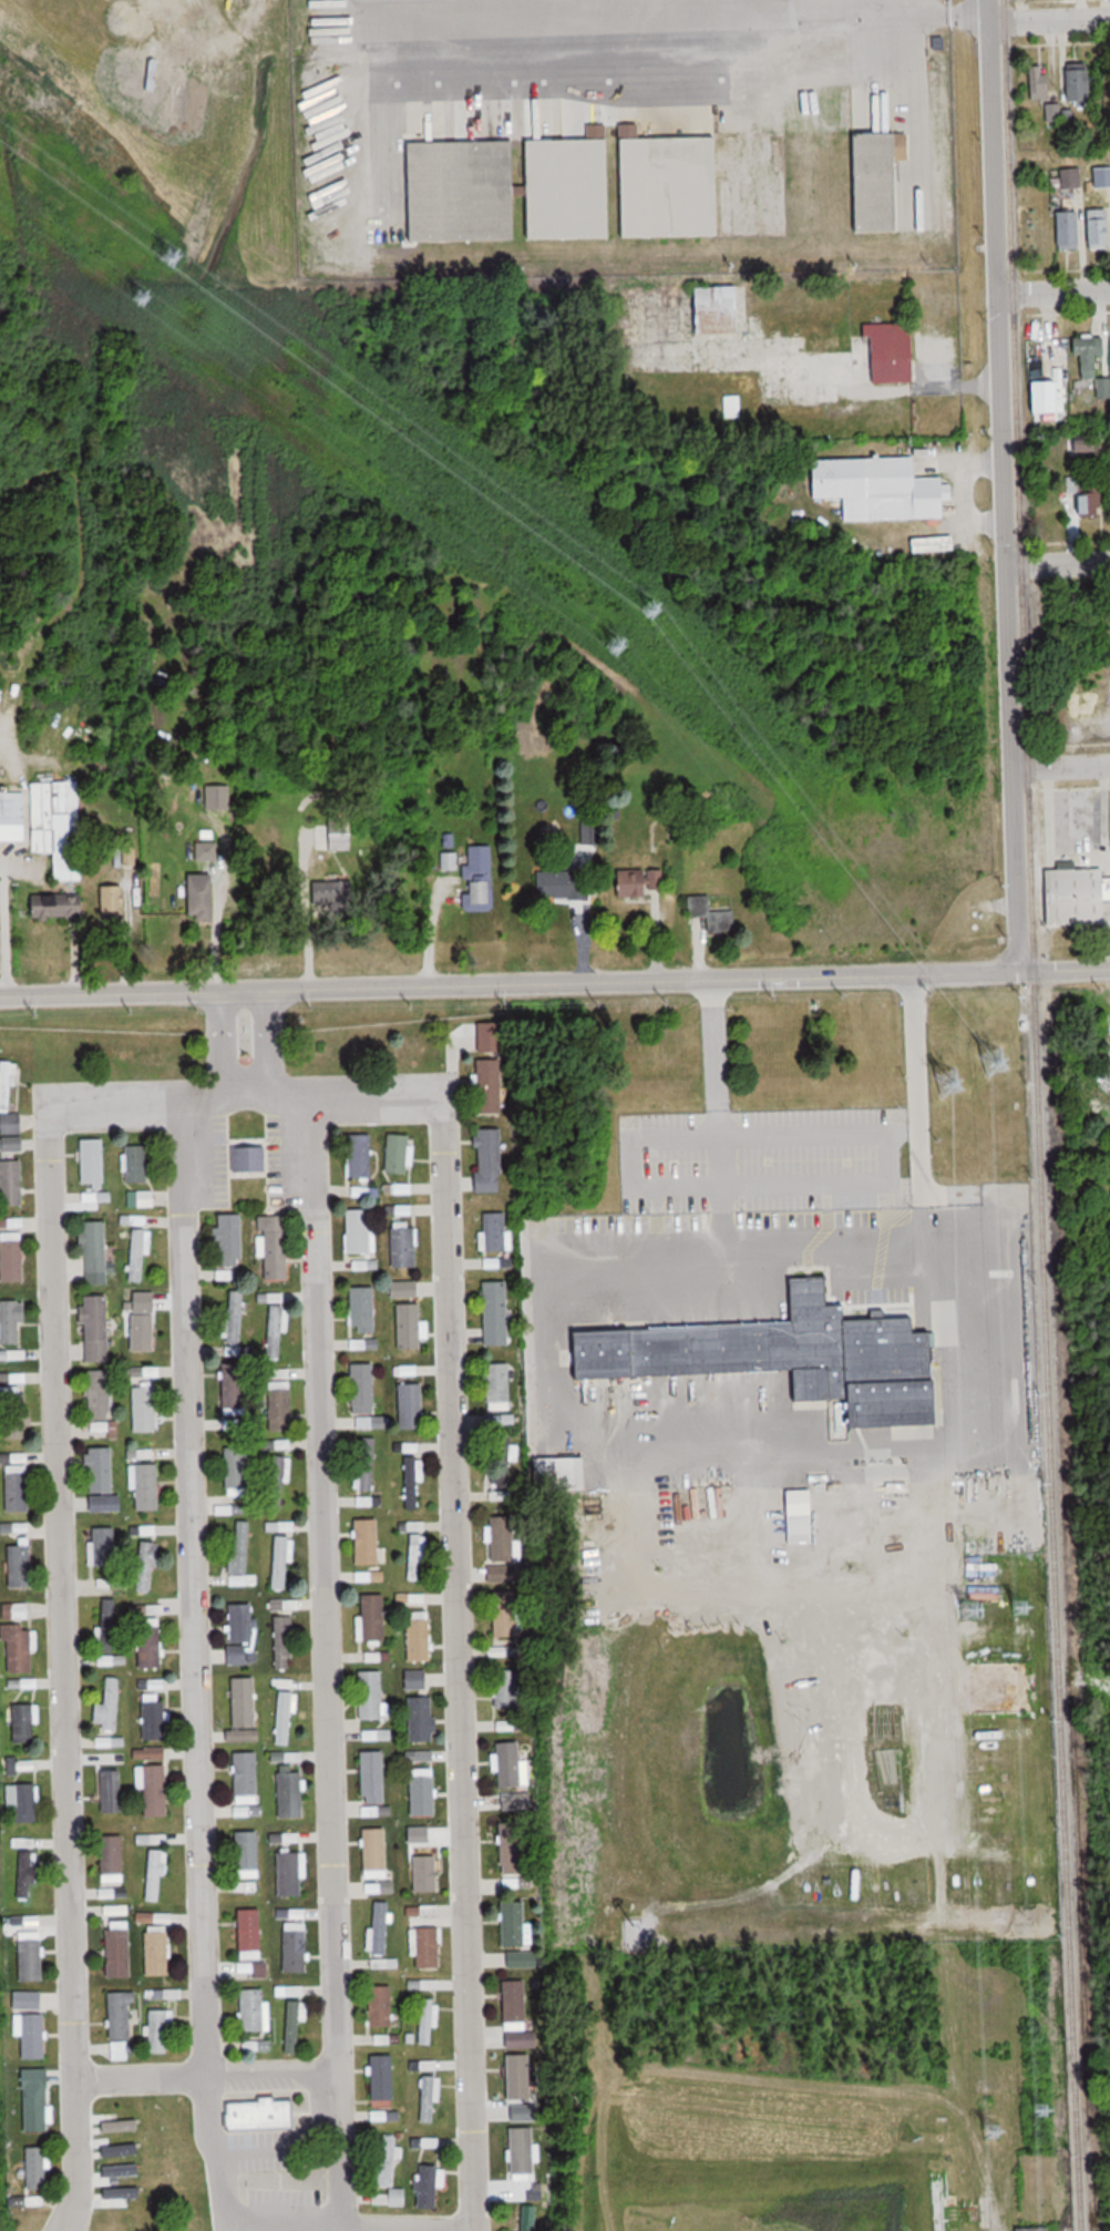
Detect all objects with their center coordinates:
road: (370, 9)
road: (854, 11)
road: (1049, 19)
road: (578, 28)
building: (1040, 83)
building: (1078, 86)
road: (909, 126)
building: (880, 182)
building: (669, 186)
building: (508, 190)
building: (1100, 228)
building: (1068, 229)
power tower: (175, 260)
railway: (1013, 283)
road: (1052, 291)
power tower: (142, 294)
building: (720, 309)
building: (892, 352)
building: (1090, 355)
building: (1103, 387)
building: (1050, 393)
building: (732, 406)
building: (876, 485)
road: (1004, 485)
building: (1086, 495)
road: (1058, 564)
power tower: (656, 612)
power tower: (619, 643)
road: (1061, 769)
building: (13, 816)
building: (56, 825)
building: (341, 832)
building: (449, 860)
building: (481, 874)
building: (637, 881)
building: (567, 884)
building: (330, 894)
building: (203, 896)
building: (1077, 896)
building: (114, 902)
building: (58, 905)
building: (711, 913)
road: (555, 983)
building: (487, 1043)
road: (709, 1046)
power tower: (998, 1058)
road: (913, 1060)
power tower: (950, 1077)
building: (490, 1086)
building: (10, 1098)
road: (796, 1136)
building: (12, 1144)
building: (398, 1152)
building: (360, 1154)
building: (248, 1156)
building: (93, 1159)
building: (490, 1160)
building: (137, 1161)
building: (12, 1183)
road: (796, 1185)
building: (141, 1198)
building: (495, 1229)
building: (358, 1230)
building: (229, 1237)
building: (275, 1244)
building: (405, 1245)
building: (95, 1246)
building: (140, 1255)
building: (12, 1257)
road: (843, 1260)
building: (404, 1289)
building: (363, 1306)
building: (496, 1311)
building: (236, 1316)
building: (11, 1320)
building: (410, 1322)
building: (97, 1327)
building: (276, 1330)
building: (140, 1331)
building: (793, 1358)
building: (405, 1371)
building: (362, 1383)
building: (500, 1383)
building: (234, 1386)
building: (100, 1392)
railway: (1050, 1399)
building: (410, 1404)
building: (144, 1406)
building: (278, 1406)
building: (16, 1412)
building: (370, 1423)
building: (411, 1449)
building: (369, 1463)
building: (237, 1467)
building: (103, 1471)
building: (503, 1472)
building: (559, 1474)
building: (278, 1478)
building: (412, 1482)
building: (18, 1484)
building: (146, 1485)
building: (801, 1517)
building: (279, 1526)
road: (451, 1529)
building: (148, 1531)
road: (58, 1536)
building: (503, 1537)
building: (368, 1539)
building: (104, 1544)
building: (241, 1548)
building: (415, 1556)
building: (280, 1559)
building: (21, 1566)
building: (146, 1567)
building: (503, 1574)
road: (194, 1588)
power tower: (1026, 1603)
building: (289, 1605)
power tower: (977, 1607)
building: (155, 1609)
building: (16, 1611)
building: (504, 1611)
building: (371, 1619)
building: (240, 1621)
building: (107, 1623)
building: (421, 1633)
building: (284, 1641)
building: (151, 1644)
building: (20, 1648)
road: (323, 1660)
building: (417, 1679)
building: (508, 1688)
building: (371, 1693)
building: (240, 1699)
building: (110, 1701)
building: (285, 1715)
building: (419, 1716)
building: (153, 1717)
building: (22, 1722)
building: (510, 1725)
building: (243, 1736)
building: (22, 1764)
building: (507, 1764)
building: (247, 1777)
building: (374, 1777)
building: (155, 1789)
building: (423, 1792)
building: (290, 1793)
building: (25, 1800)
building: (516, 1801)
building: (150, 1839)
building: (513, 1844)
building: (374, 1850)
building: (247, 1854)
building: (110, 1859)
building: (292, 1871)
building: (156, 1872)
building: (426, 1873)
building: (25, 1874)
building: (424, 1911)
building: (513, 1921)
building: (381, 1927)
building: (249, 1930)
building: (635, 1937)
building: (297, 1945)
building: (430, 1948)
building: (161, 1951)
building: (117, 1952)
building: (31, 1955)
building: (522, 1958)
building: (384, 1962)
building: (255, 1968)
building: (428, 1984)
building: (29, 1999)
building: (381, 2003)
building: (515, 2003)
building: (254, 2007)
building: (122, 2013)
building: (428, 2019)
building: (294, 2026)
building: (160, 2030)
building: (34, 2036)
building: (431, 2065)
building: (518, 2073)
road: (205, 2075)
building: (382, 2077)
building: (429, 2096)
building: (35, 2099)
power tower: (1045, 2107)
building: (524, 2112)
building: (261, 2116)
power tower: (995, 2128)
road: (278, 2146)
building: (522, 2150)
building: (388, 2161)
building: (39, 2167)
building: (430, 2186)
building: (528, 2220)
road: (276, 2223)

